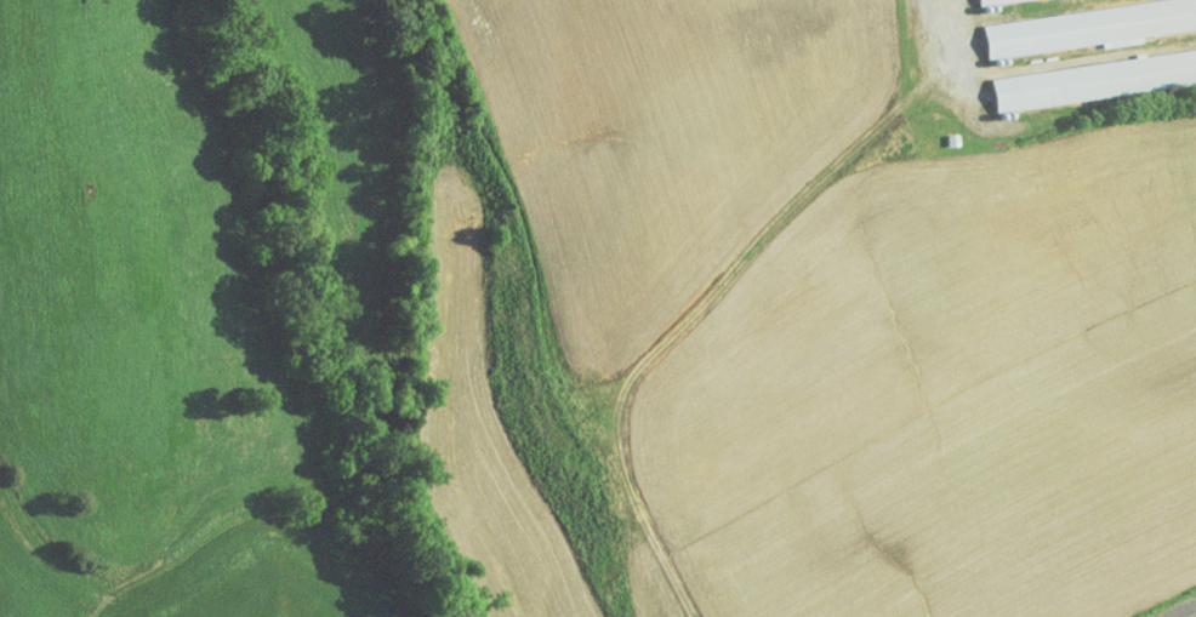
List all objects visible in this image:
road: (934, 5)
building: (1072, 21)
building: (1087, 70)
railway: (1184, 611)

